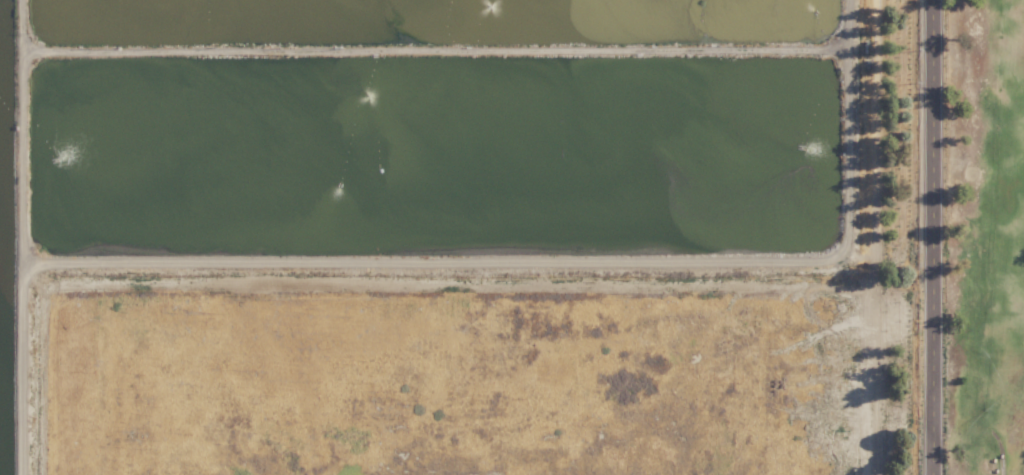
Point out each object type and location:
park: (988, 236)
road: (935, 237)
road: (1000, 450)

